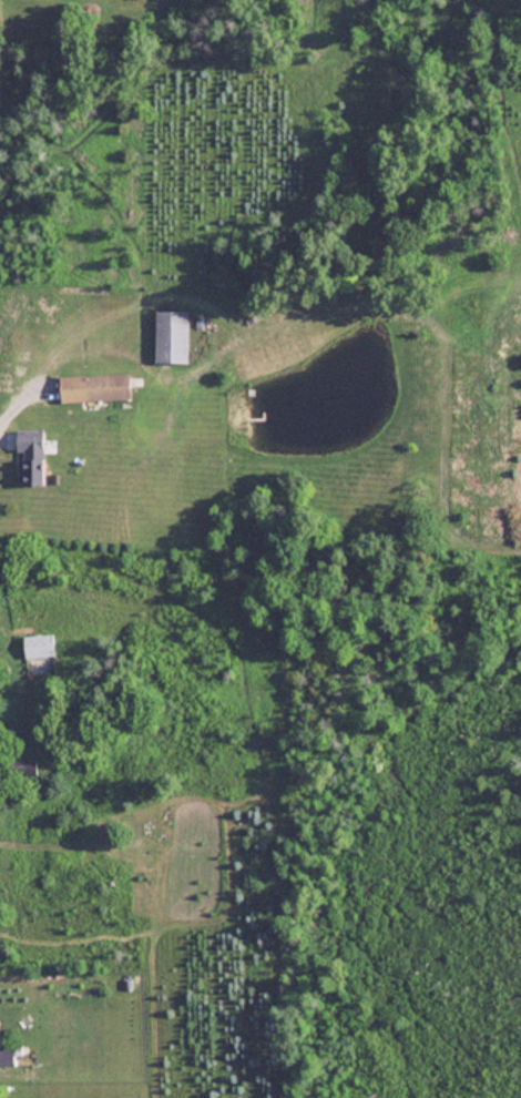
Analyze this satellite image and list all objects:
building: (171, 336)
building: (94, 386)
building: (29, 456)
building: (6, 1054)

